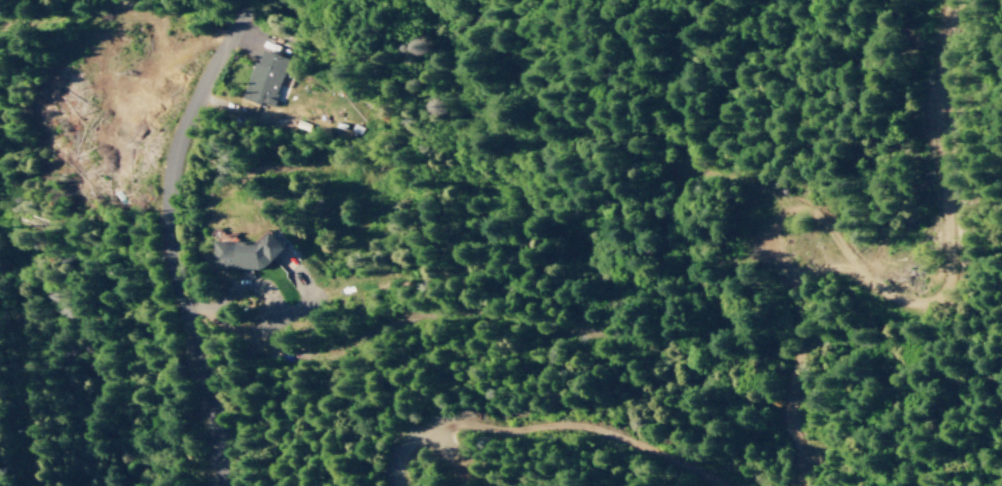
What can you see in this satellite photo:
building: (263, 78)
road: (178, 237)
building: (244, 253)
road: (480, 298)
road: (3, 385)
road: (5, 451)

